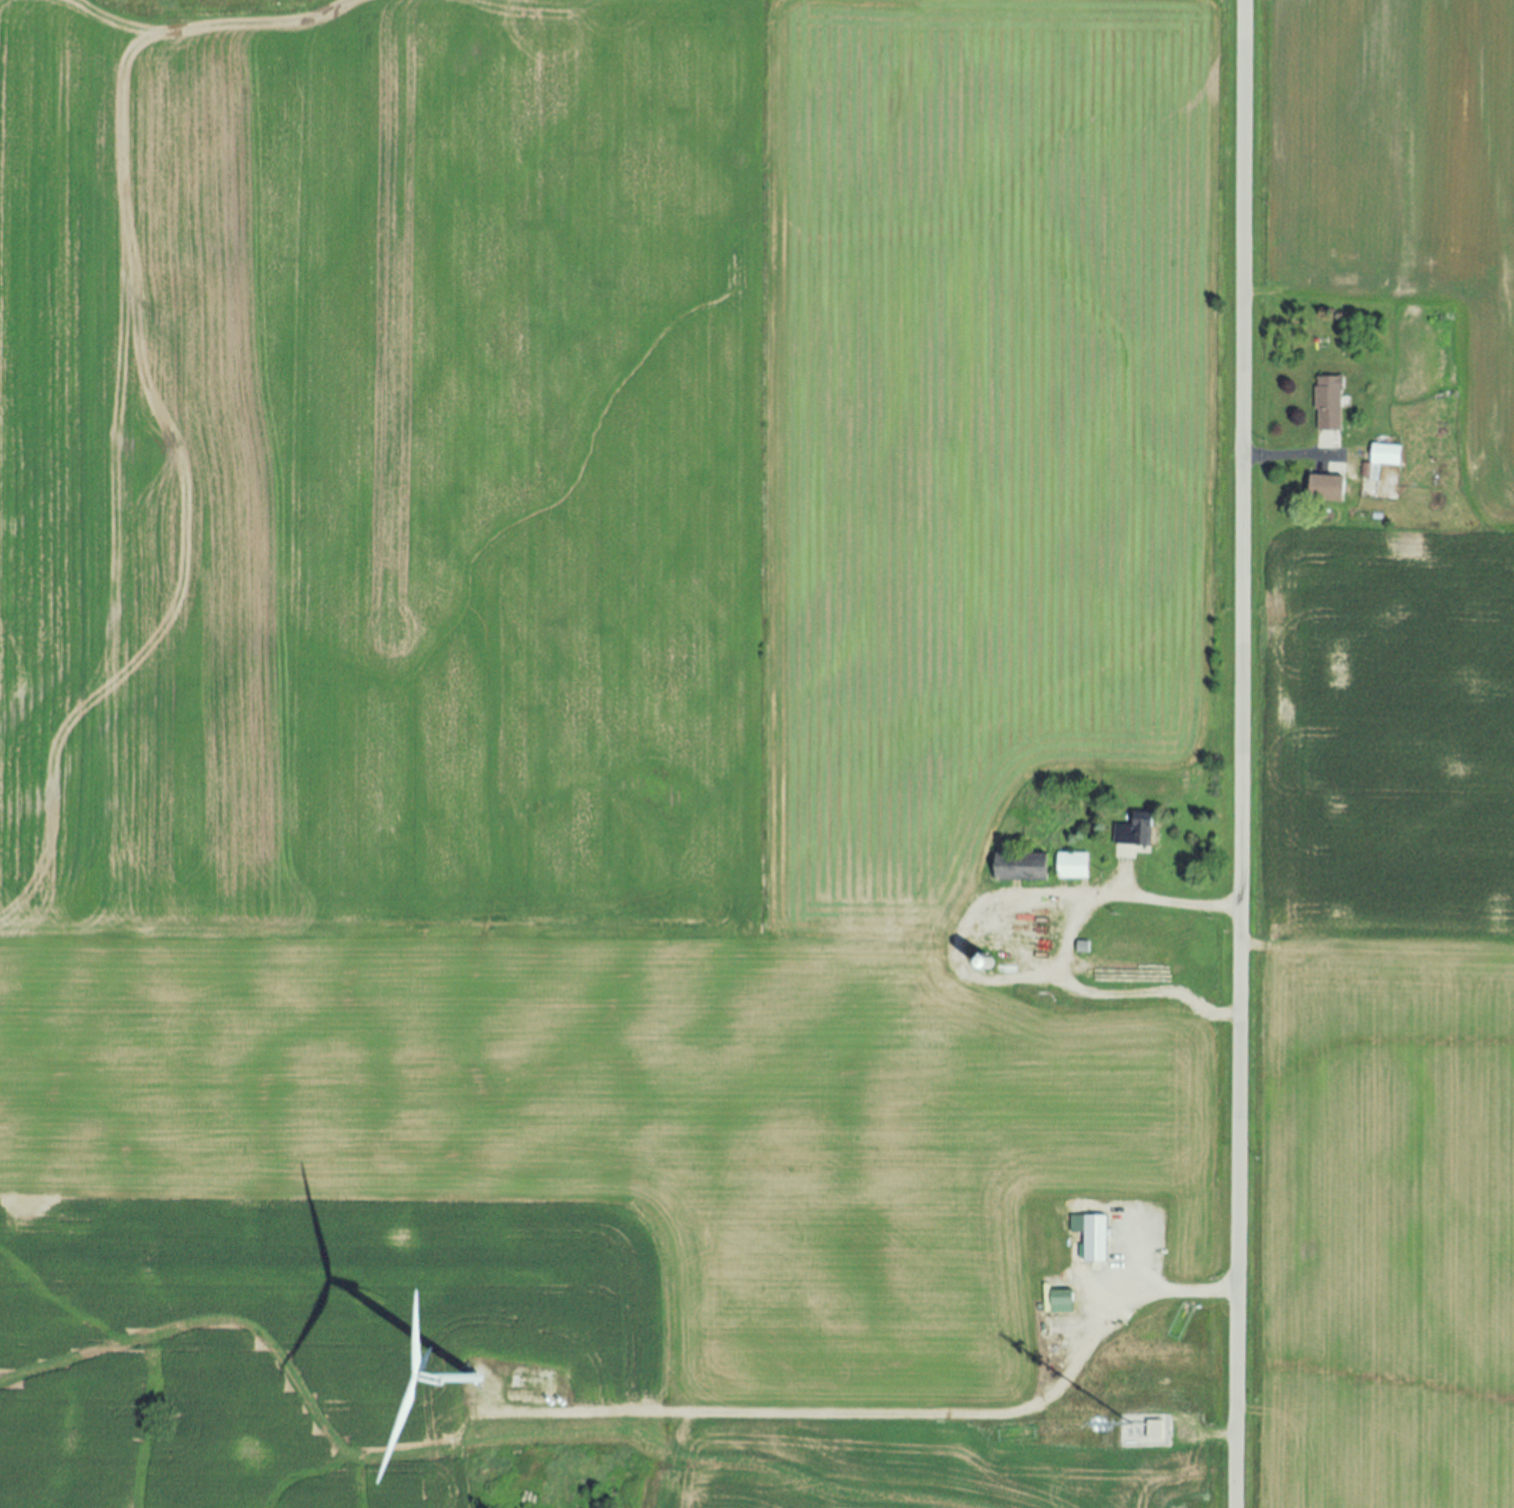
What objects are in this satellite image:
building: (1327, 404)
road: (1286, 455)
building: (1384, 456)
building: (1325, 490)
road: (1239, 754)
building: (1134, 832)
building: (1071, 866)
building: (1018, 868)
road: (973, 905)
road: (1147, 995)
building: (1094, 1240)
building: (1057, 1303)
wind turbine: (474, 1379)
road: (883, 1416)

